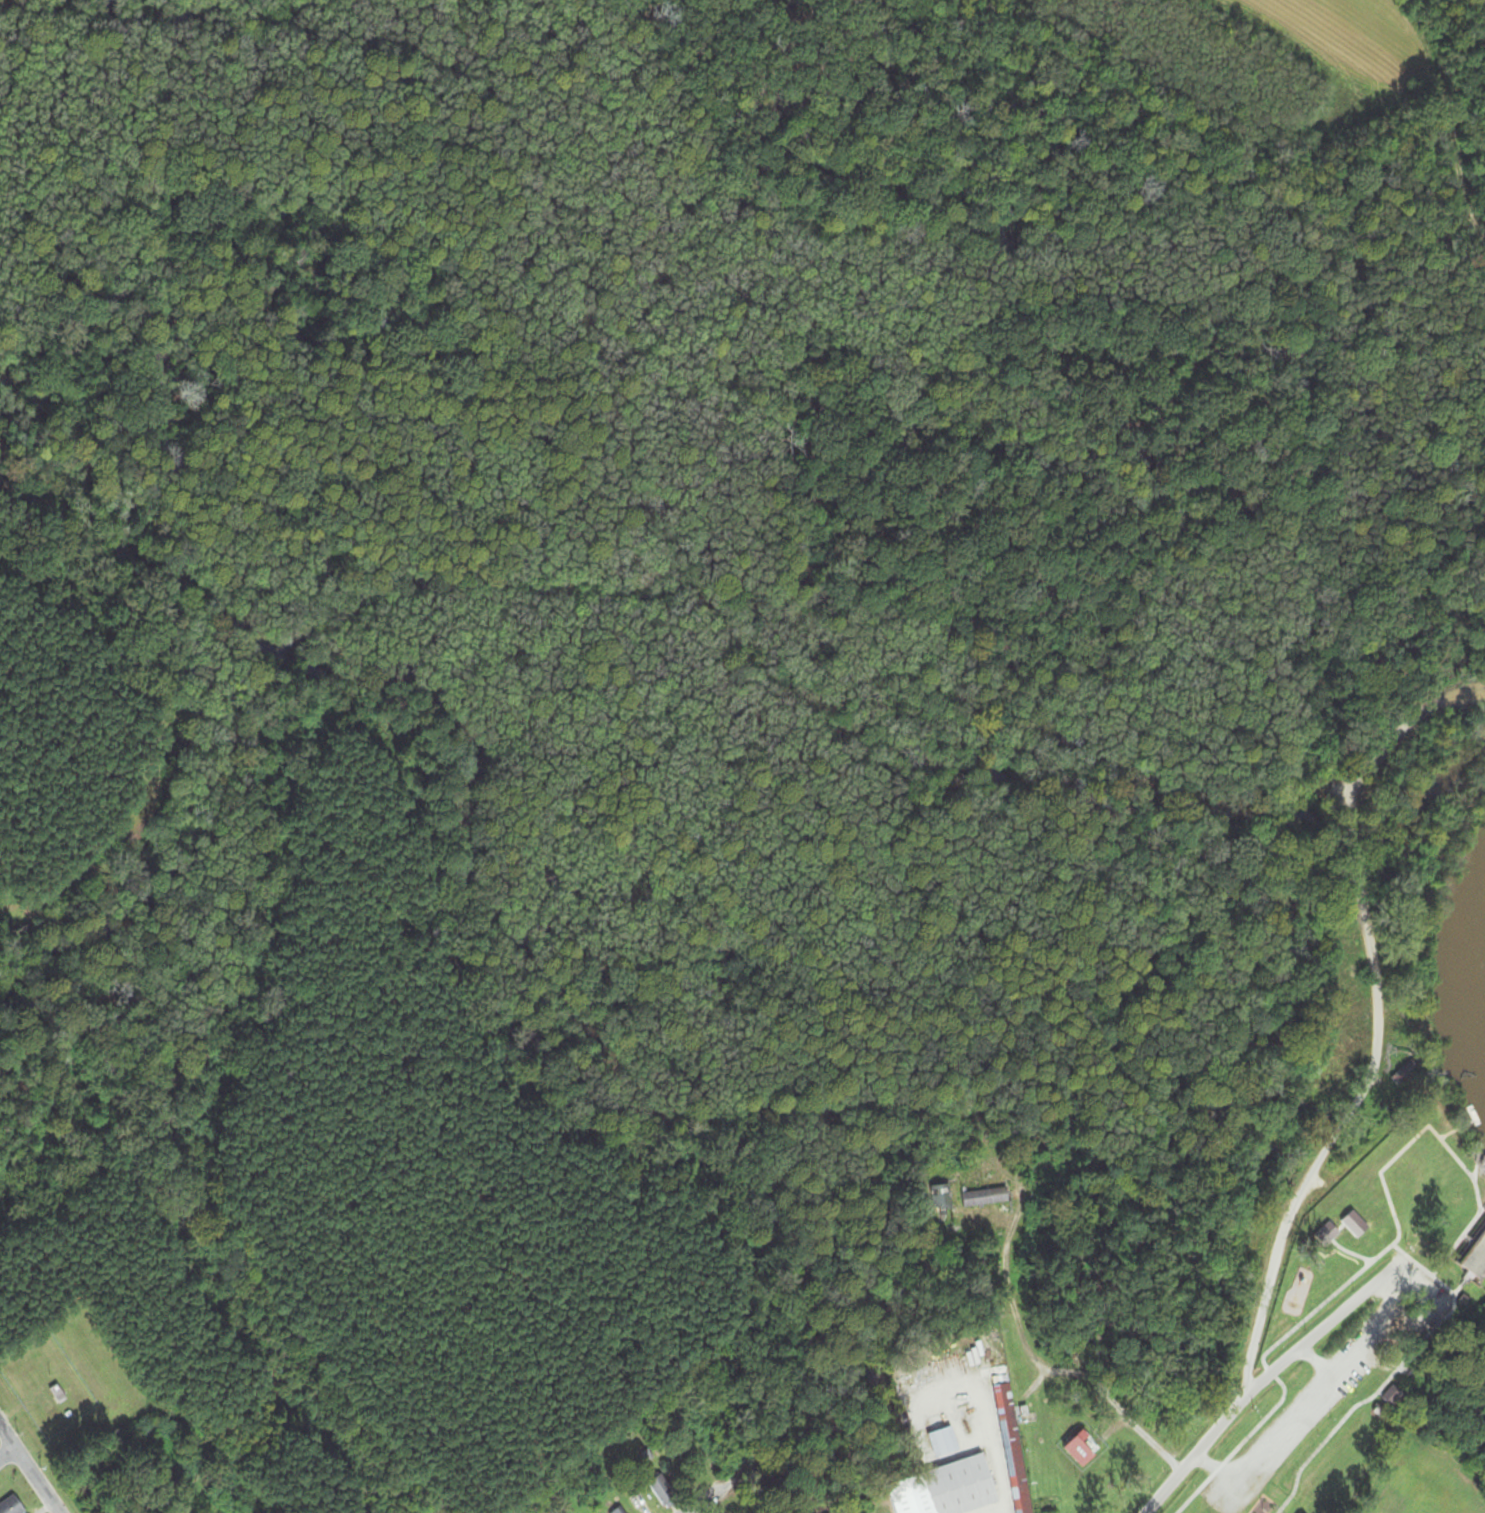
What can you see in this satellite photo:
road: (1461, 176)
road: (1386, 1022)
building: (939, 1197)
building: (986, 1197)
building: (1482, 1239)
road: (1349, 1253)
road: (1371, 1260)
building: (1471, 1304)
road: (1057, 1369)
road: (1390, 1374)
road: (1266, 1376)
building: (58, 1395)
building: (1393, 1398)
building: (944, 1443)
building: (1012, 1444)
road: (7, 1455)
road: (28, 1469)
building: (940, 1489)
building: (664, 1493)
road: (709, 1504)
building: (12, 1506)
building: (620, 1511)

